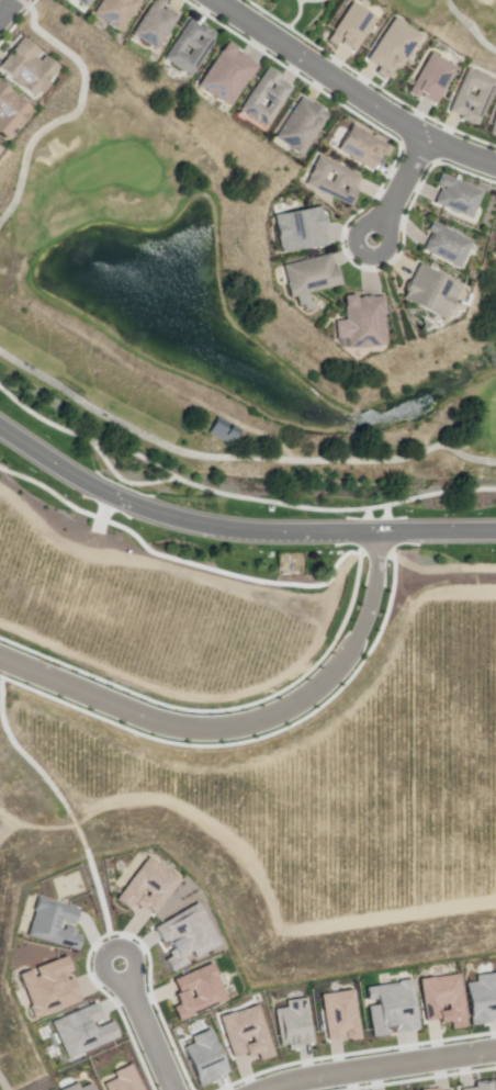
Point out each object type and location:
building: (83, 2)
park: (420, 4)
road: (4, 5)
building: (116, 11)
park: (458, 22)
building: (155, 24)
building: (353, 26)
road: (471, 26)
building: (190, 47)
building: (394, 48)
building: (27, 67)
building: (227, 74)
building: (432, 78)
road: (349, 92)
building: (472, 95)
building: (266, 97)
building: (10, 110)
road: (72, 116)
building: (302, 125)
building: (494, 128)
building: (362, 147)
park: (113, 170)
building: (334, 180)
road: (395, 189)
building: (458, 196)
building: (302, 229)
park: (262, 233)
building: (448, 246)
building: (495, 251)
building: (312, 276)
building: (432, 293)
park: (203, 294)
building: (363, 321)
park: (493, 419)
building: (225, 430)
road: (237, 458)
road: (37, 525)
road: (235, 528)
road: (243, 729)
building: (148, 887)
building: (55, 921)
building: (184, 939)
building: (48, 987)
building: (198, 991)
building: (439, 991)
building: (481, 997)
building: (390, 1011)
building: (293, 1020)
building: (339, 1024)
building: (248, 1026)
road: (154, 1027)
building: (81, 1030)
building: (208, 1057)
road: (383, 1067)
building: (119, 1078)
building: (83, 1083)
building: (436, 1089)
building: (481, 1089)

